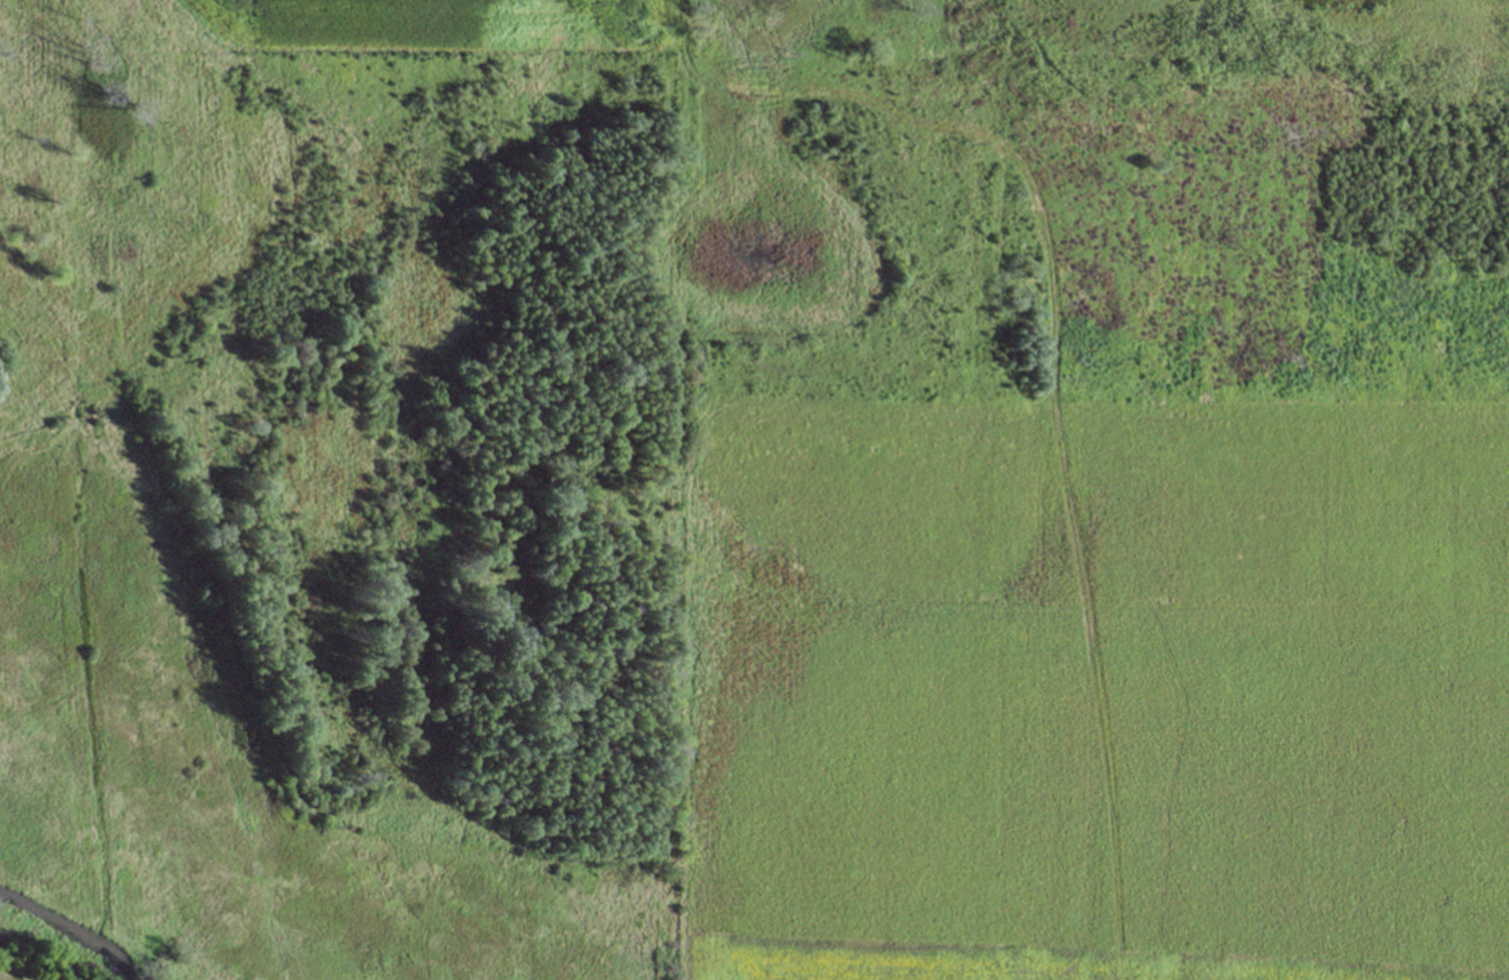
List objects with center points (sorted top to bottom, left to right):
river: (64, 939)

